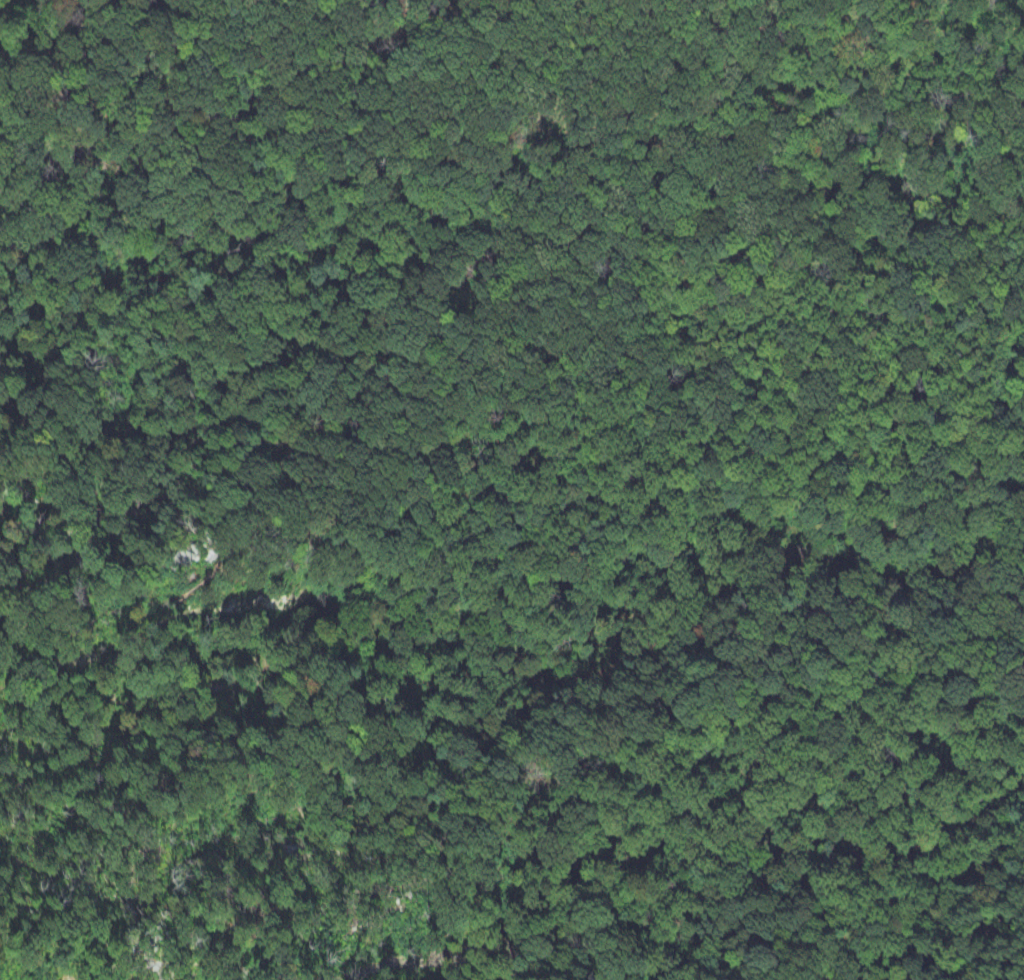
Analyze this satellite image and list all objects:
park: (500, 475)

